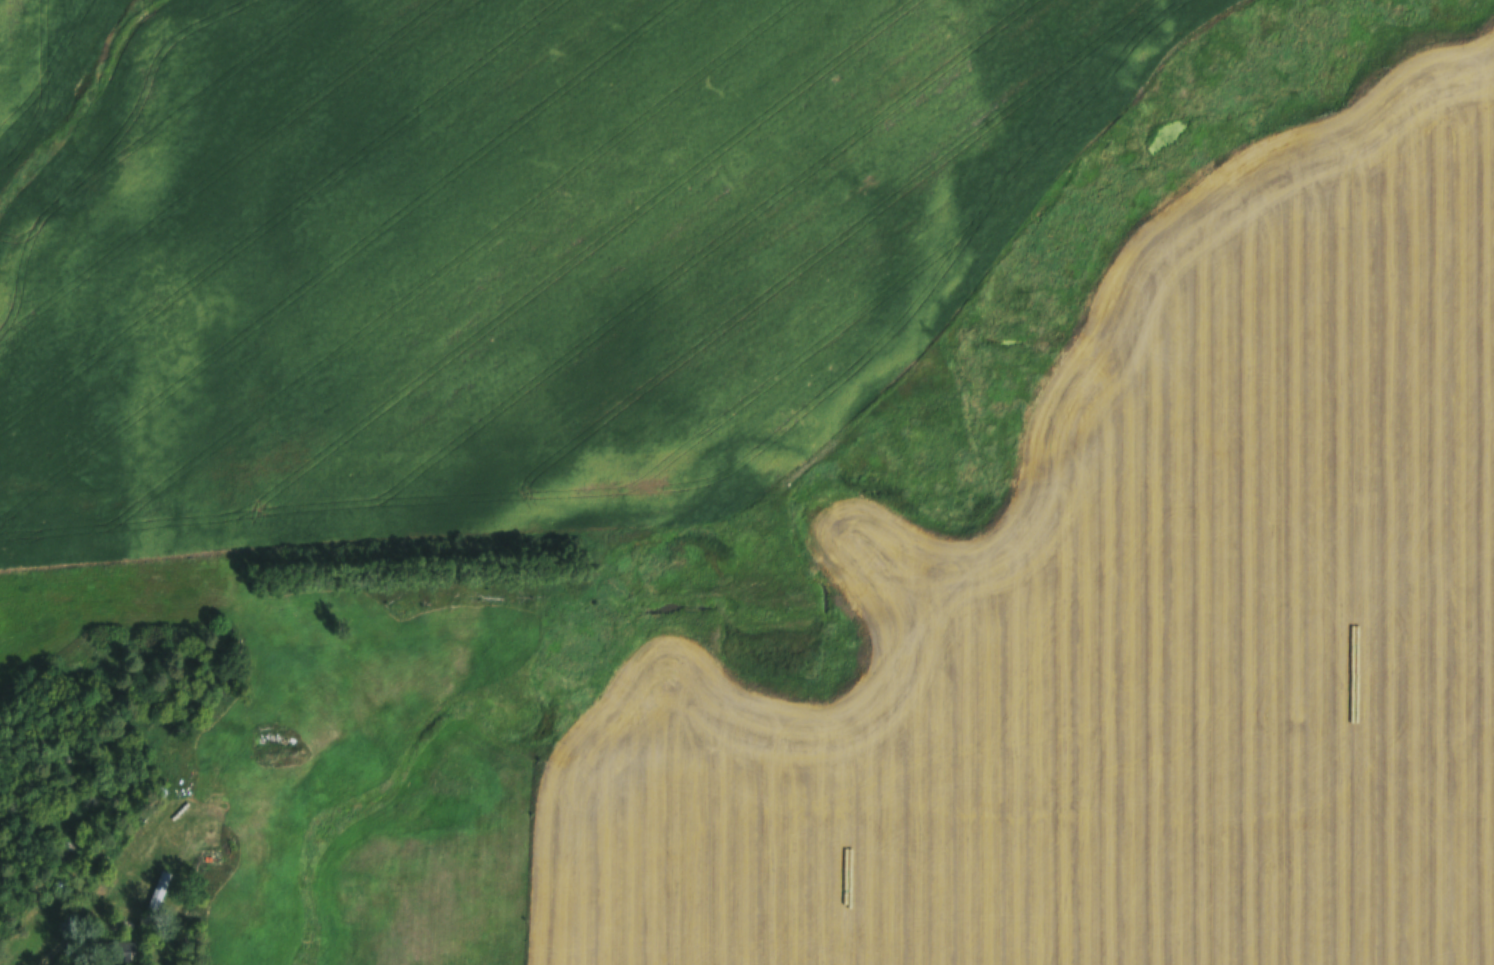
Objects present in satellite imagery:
road: (58, 948)

